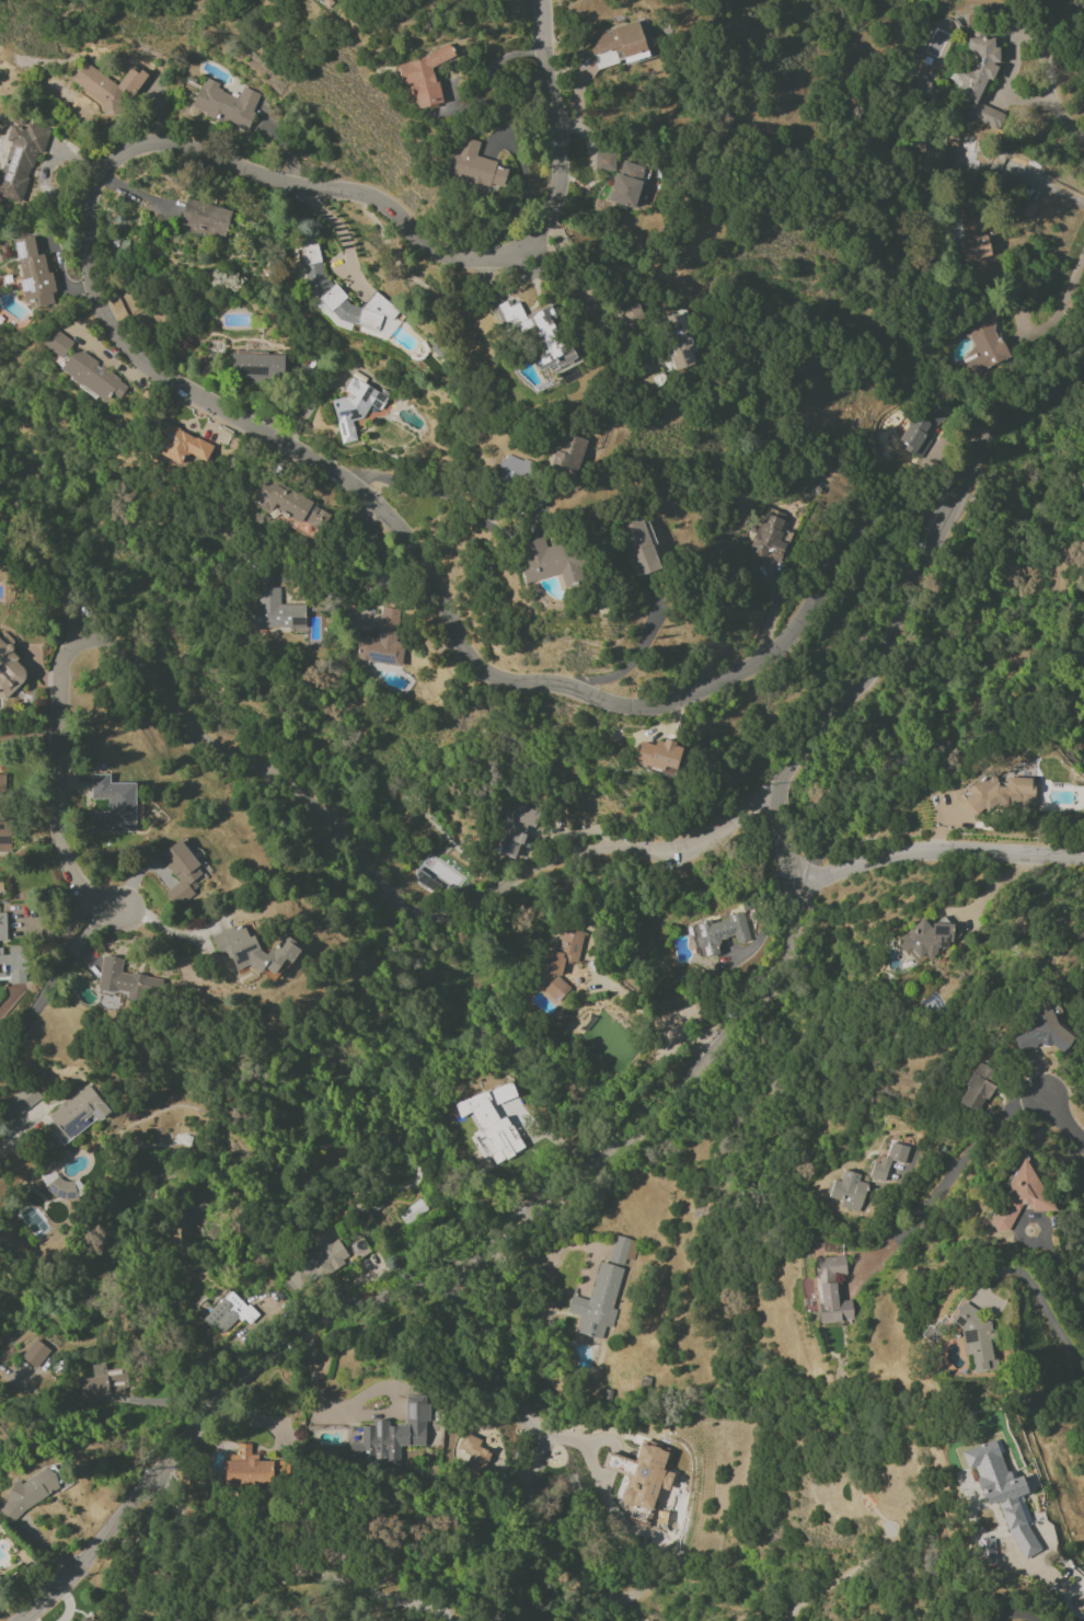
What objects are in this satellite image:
road: (1008, 41)
road: (489, 71)
building: (422, 77)
building: (977, 80)
building: (105, 84)
building: (921, 87)
building: (226, 104)
road: (1062, 120)
building: (958, 152)
building: (20, 159)
building: (603, 161)
building: (475, 165)
building: (626, 184)
road: (1048, 188)
road: (514, 205)
building: (1025, 208)
building: (204, 219)
building: (33, 273)
building: (344, 300)
road: (1057, 310)
building: (631, 315)
building: (535, 334)
building: (677, 341)
building: (983, 343)
building: (256, 366)
building: (82, 368)
road: (165, 377)
building: (355, 406)
building: (919, 426)
building: (180, 445)
building: (567, 455)
building: (512, 468)
road: (437, 494)
building: (288, 505)
road: (919, 506)
building: (769, 536)
building: (638, 548)
building: (546, 561)
road: (376, 572)
road: (46, 576)
road: (914, 578)
building: (275, 611)
building: (382, 639)
road: (629, 665)
building: (8, 666)
road: (945, 746)
building: (658, 756)
road: (61, 783)
building: (1, 787)
building: (997, 793)
building: (113, 805)
building: (517, 830)
road: (783, 838)
building: (4, 839)
road: (934, 853)
building: (182, 871)
building: (439, 876)
road: (399, 896)
building: (718, 934)
road: (173, 936)
building: (926, 939)
building: (253, 951)
building: (10, 957)
building: (562, 959)
road: (50, 980)
building: (125, 980)
building: (1042, 1031)
building: (977, 1088)
building: (19, 1103)
building: (74, 1115)
building: (494, 1119)
road: (1063, 1120)
road: (943, 1177)
building: (1022, 1196)
building: (620, 1250)
building: (325, 1255)
road: (445, 1273)
road: (1061, 1275)
building: (830, 1290)
road: (1039, 1300)
building: (598, 1301)
building: (220, 1315)
building: (970, 1336)
building: (35, 1354)
road: (498, 1380)
building: (100, 1382)
road: (334, 1409)
road: (251, 1417)
building: (390, 1437)
building: (474, 1452)
building: (247, 1468)
building: (641, 1480)
building: (1001, 1492)
building: (27, 1493)
building: (984, 1551)
road: (137, 1554)
road: (1060, 1575)
road: (1079, 1607)
road: (1014, 1616)
building: (83, 1619)

